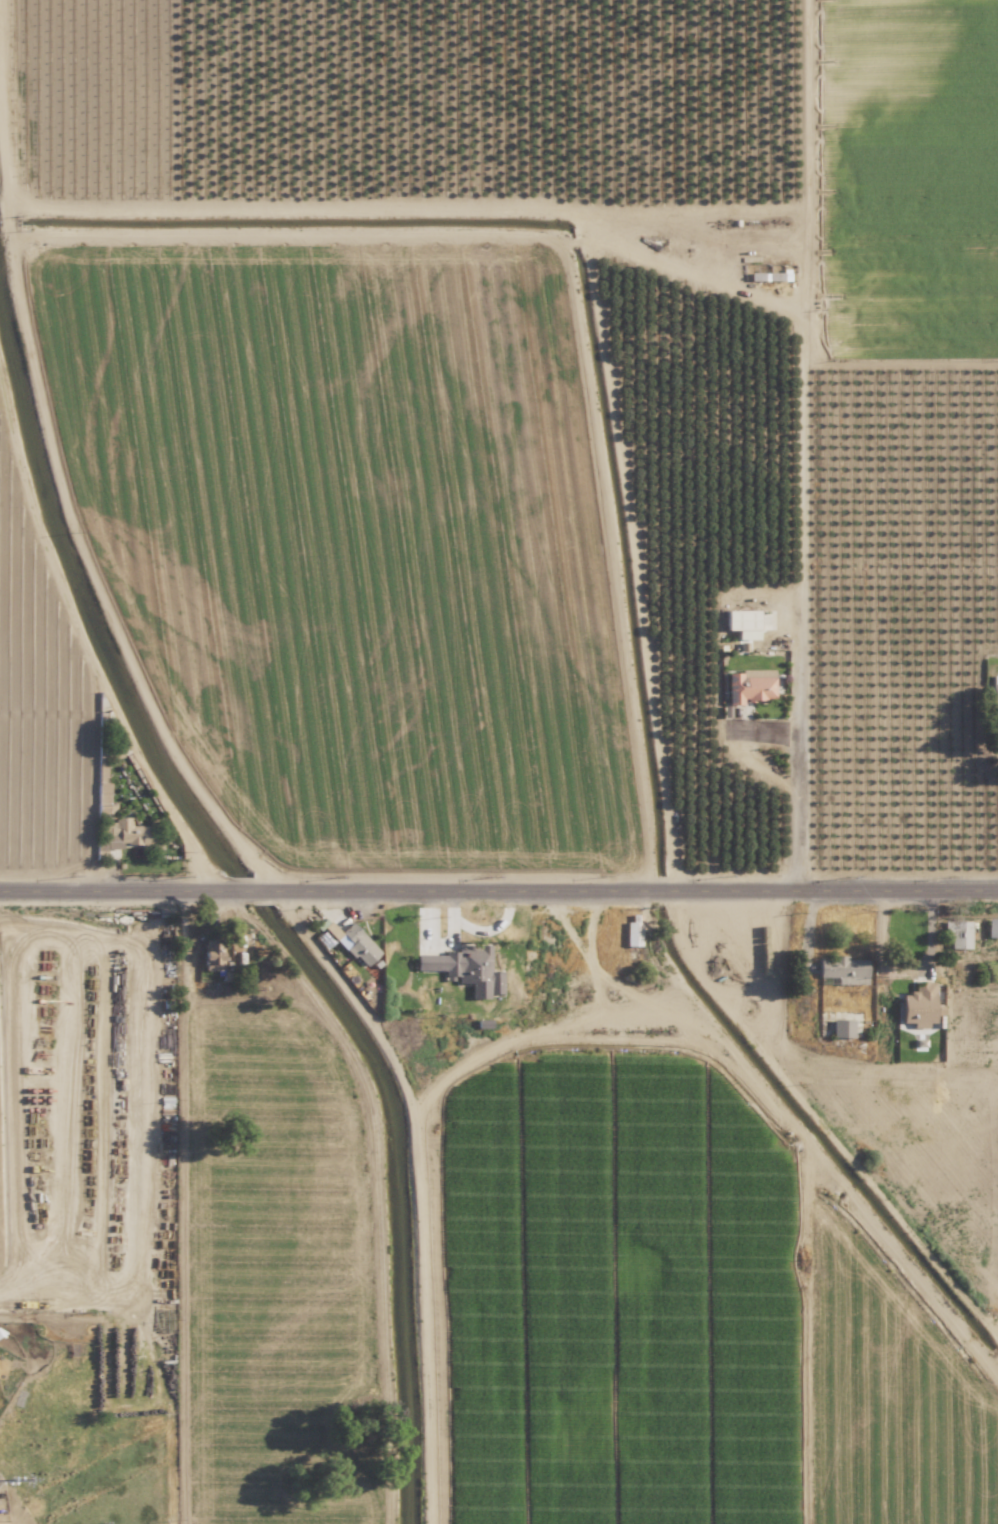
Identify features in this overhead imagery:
road: (627, 256)
crop: (490, 436)
road: (69, 512)
building: (741, 619)
building: (750, 685)
building: (994, 694)
road: (796, 793)
building: (132, 833)
road: (498, 896)
building: (992, 928)
building: (633, 931)
building: (957, 934)
building: (355, 943)
building: (214, 956)
road: (905, 969)
building: (842, 970)
building: (919, 1004)
building: (843, 1028)

